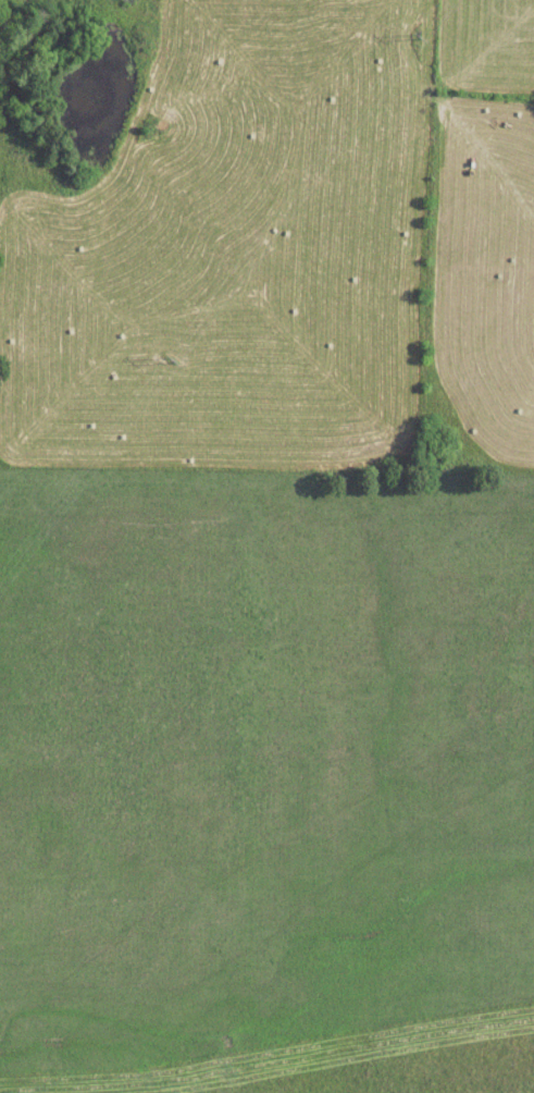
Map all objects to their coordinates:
road: (405, 37)

